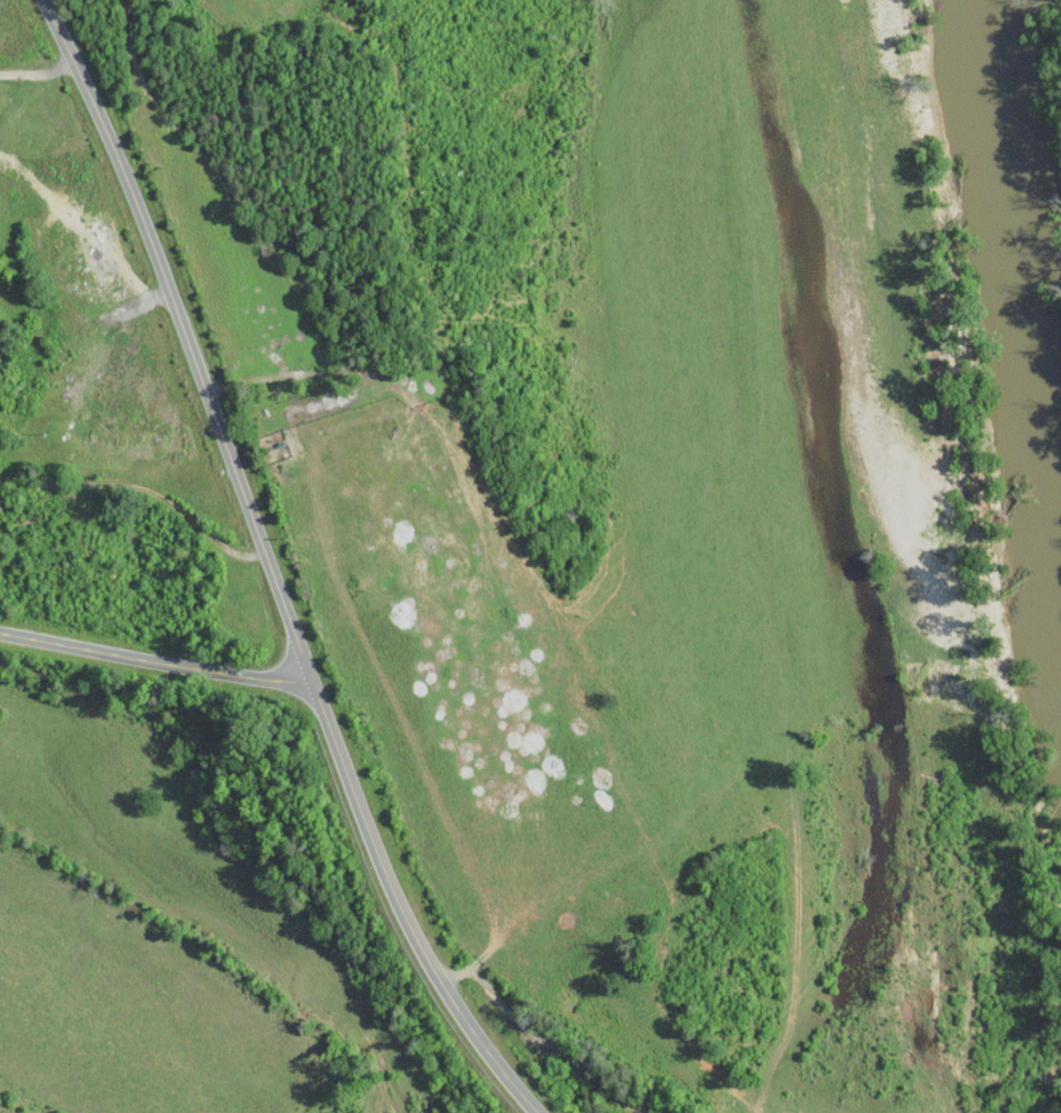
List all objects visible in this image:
road: (38, 69)
river: (1029, 271)
road: (271, 567)
road: (154, 660)
road: (543, 1039)

